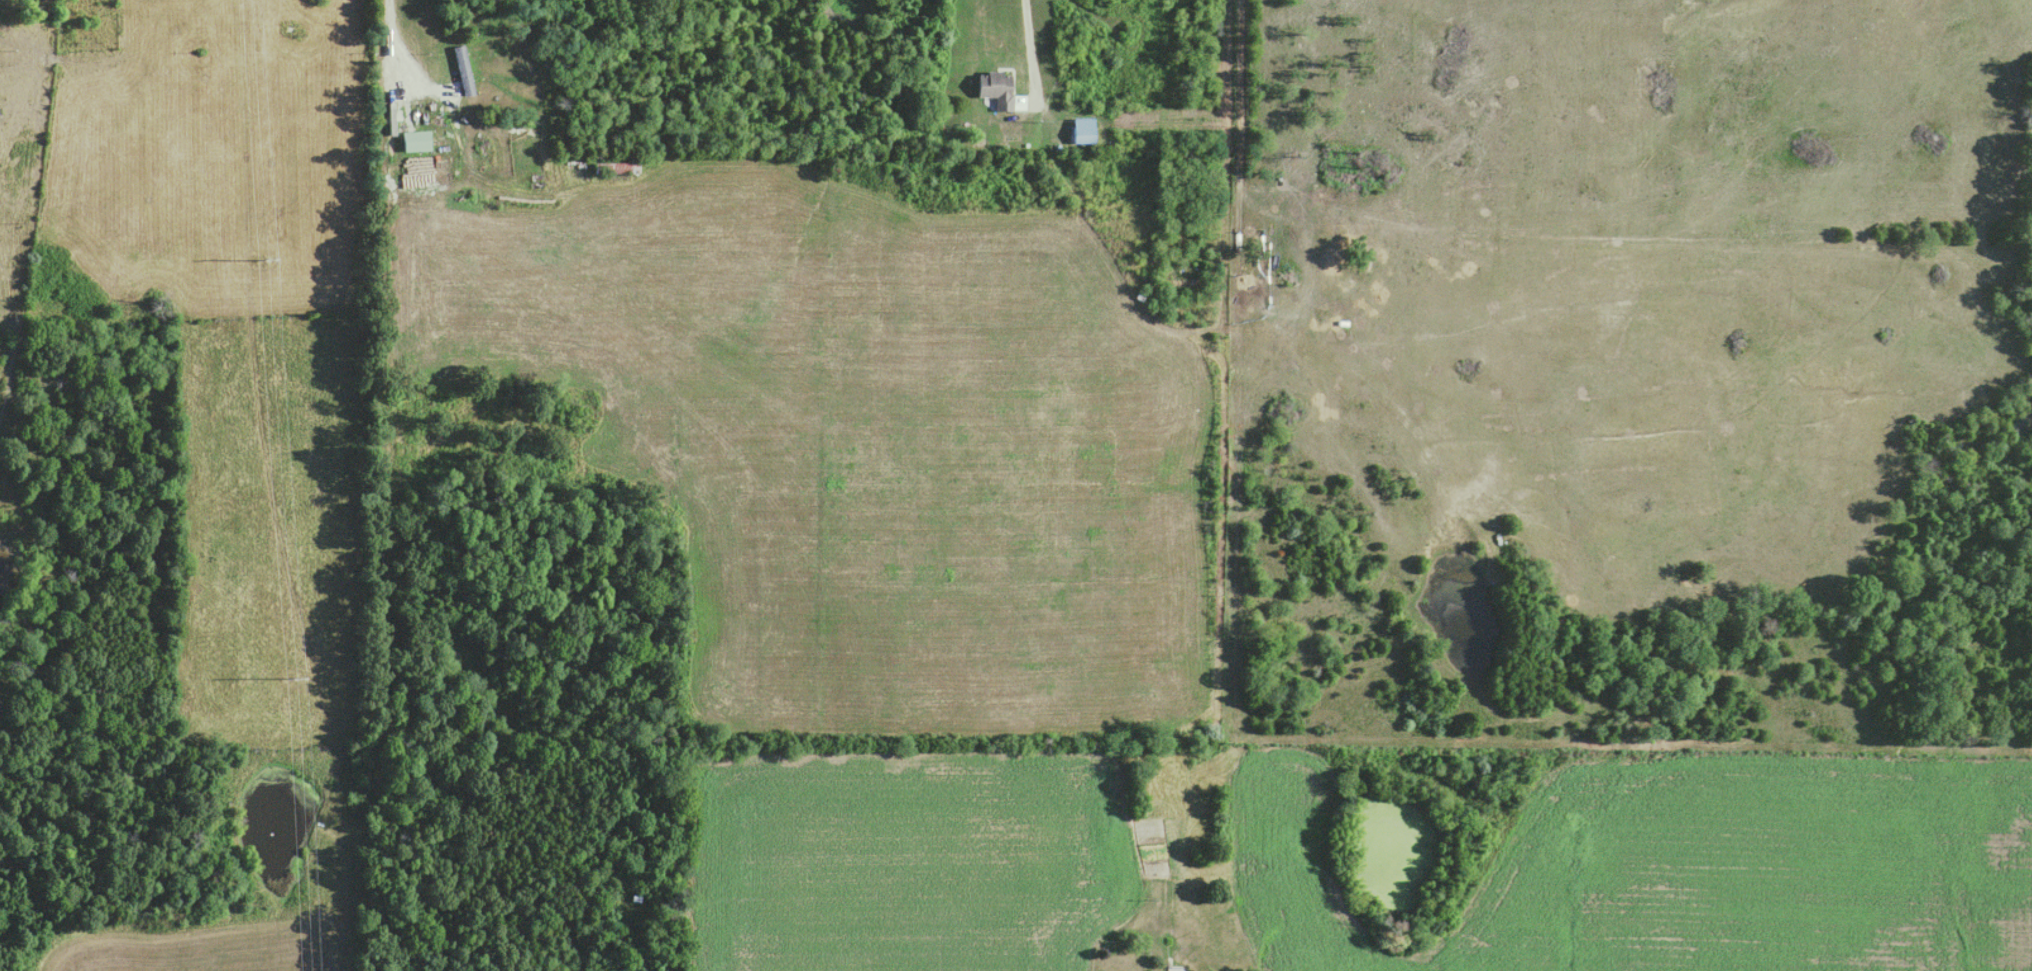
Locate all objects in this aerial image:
road: (1030, 55)
road: (421, 70)
building: (463, 71)
building: (992, 90)
building: (1079, 131)
building: (413, 141)
road: (1239, 155)

